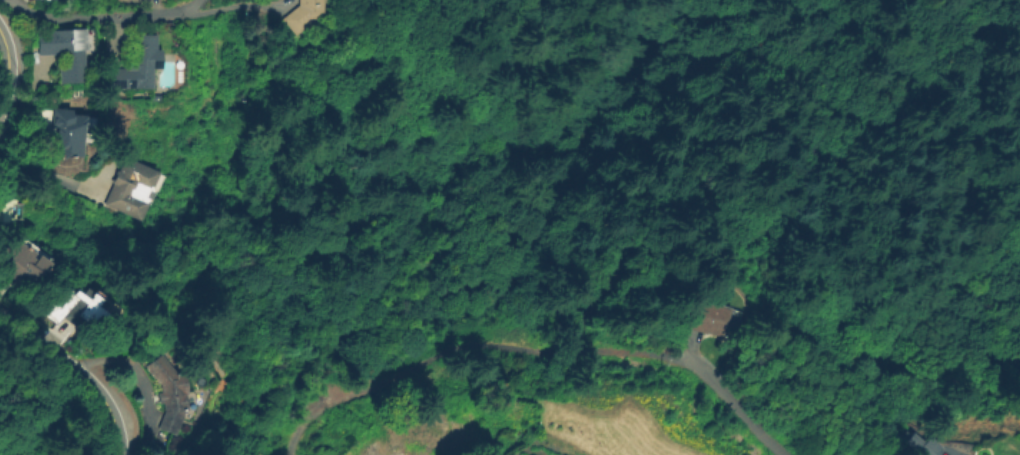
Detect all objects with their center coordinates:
building: (309, 15)
road: (142, 16)
building: (66, 51)
building: (142, 64)
road: (7, 73)
building: (72, 132)
road: (56, 180)
building: (136, 189)
building: (9, 210)
building: (24, 263)
building: (74, 303)
building: (715, 319)
road: (464, 348)
road: (79, 370)
road: (138, 381)
building: (171, 395)
road: (734, 401)
building: (420, 438)
building: (923, 446)

